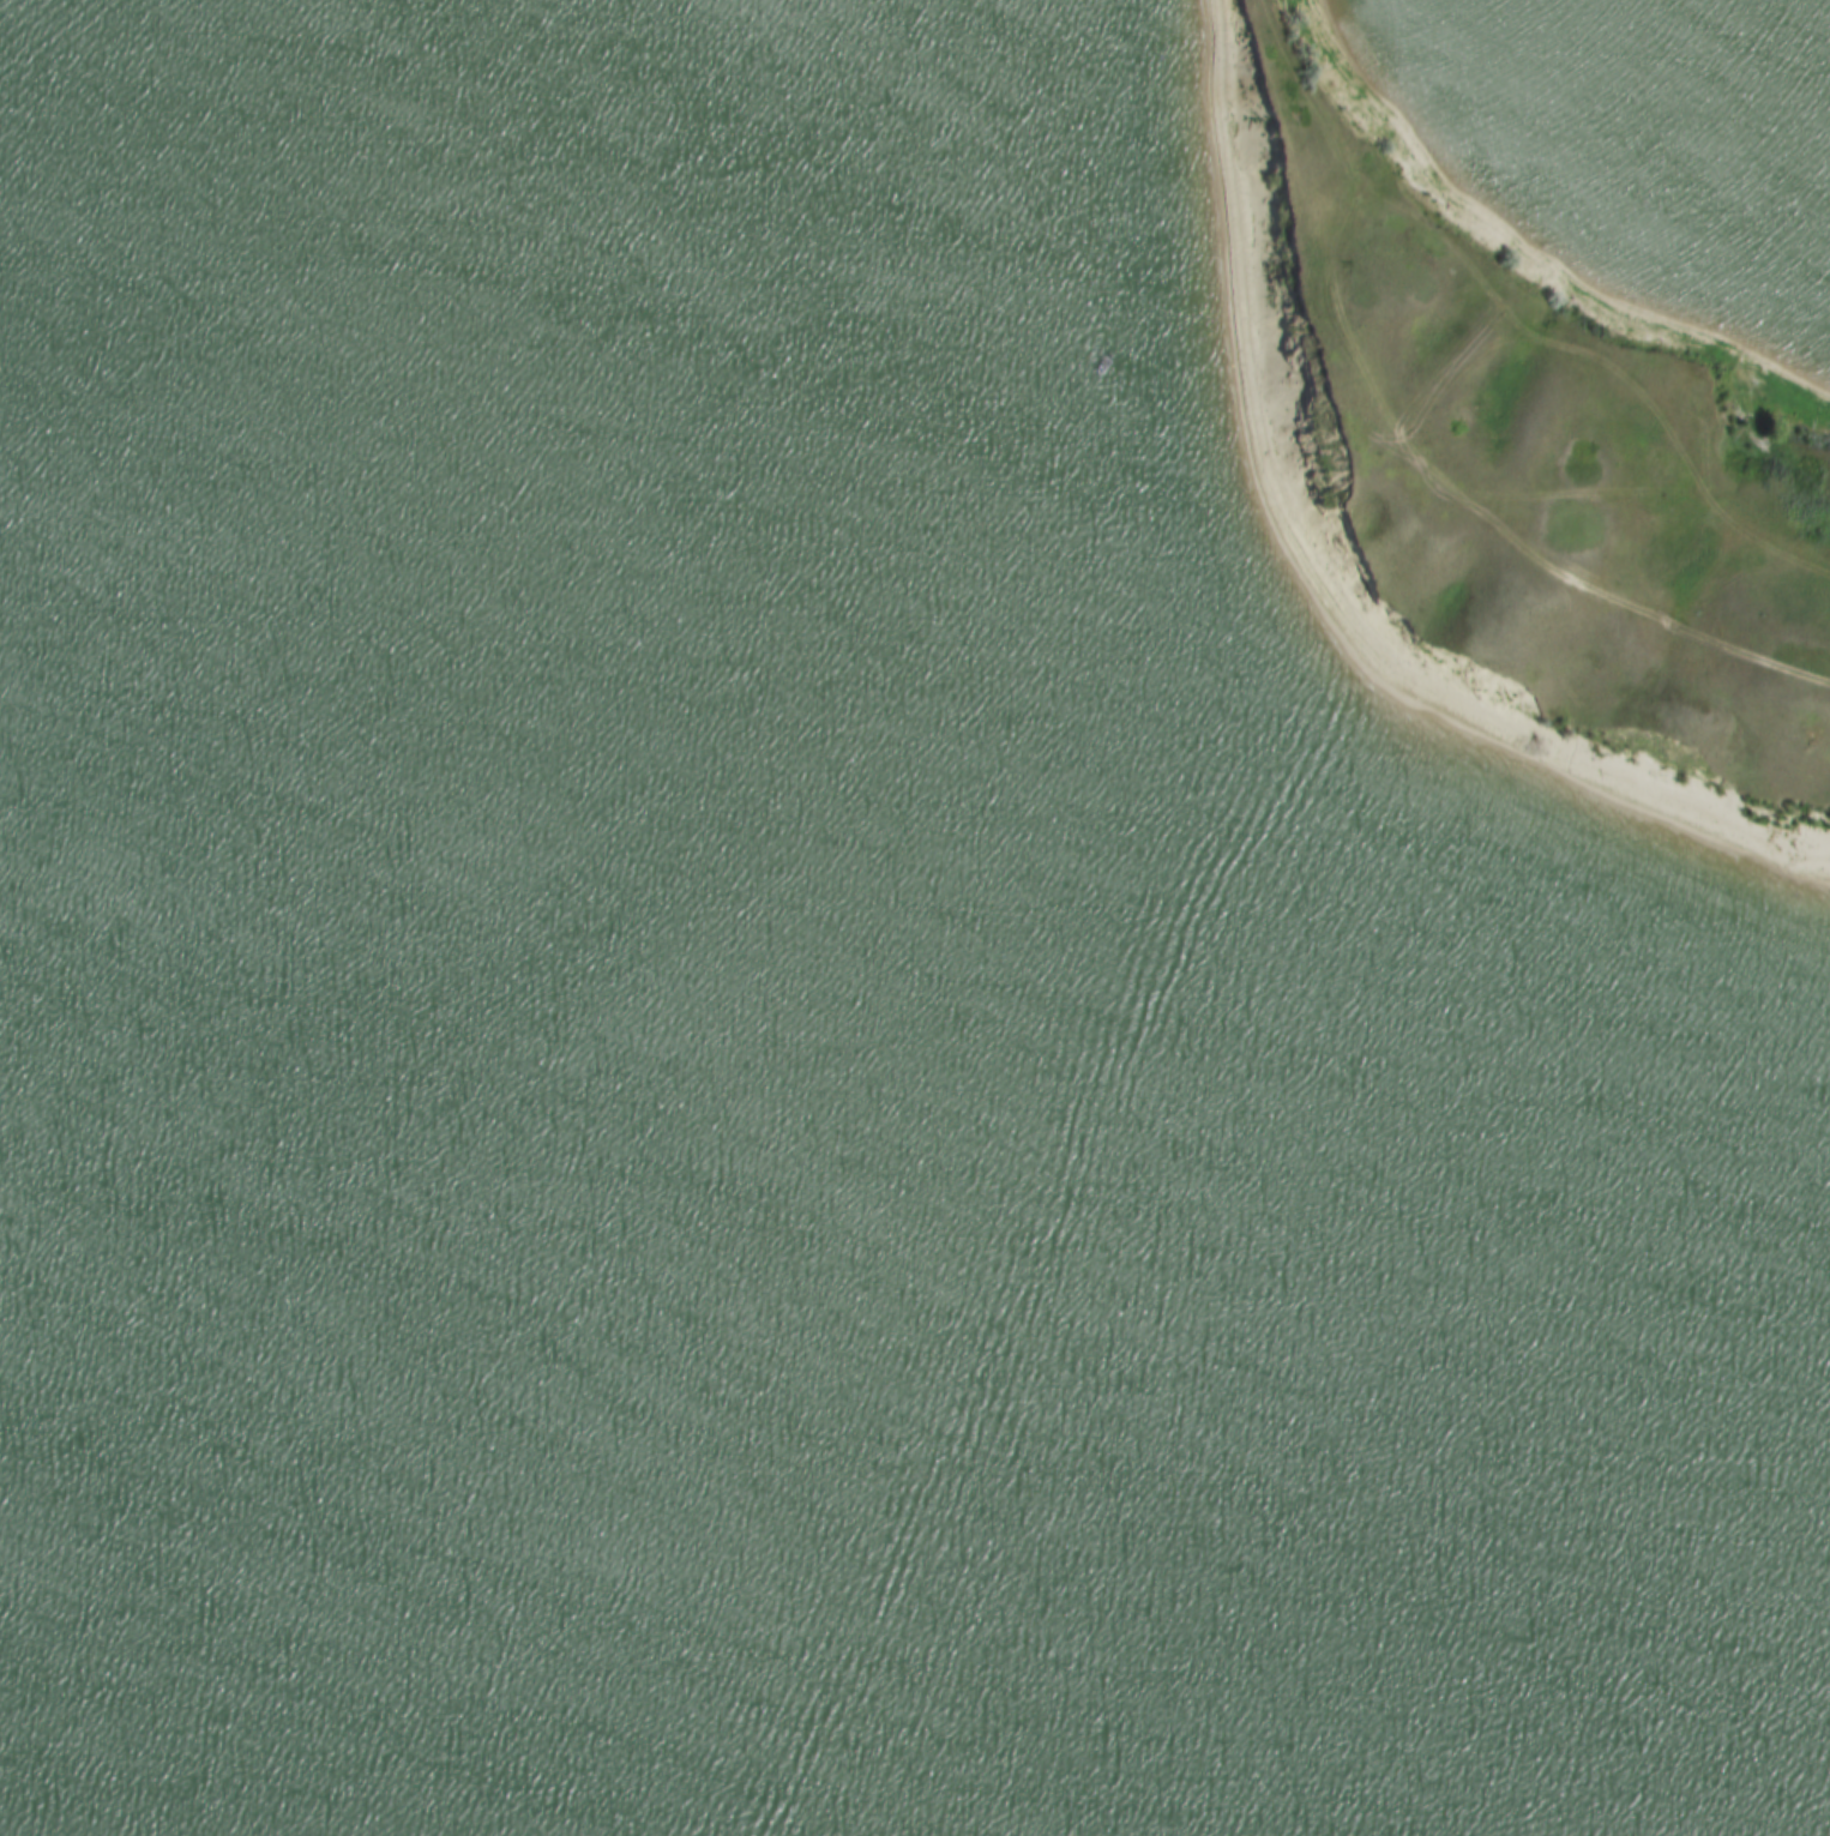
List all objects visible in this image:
road: (1422, 469)

